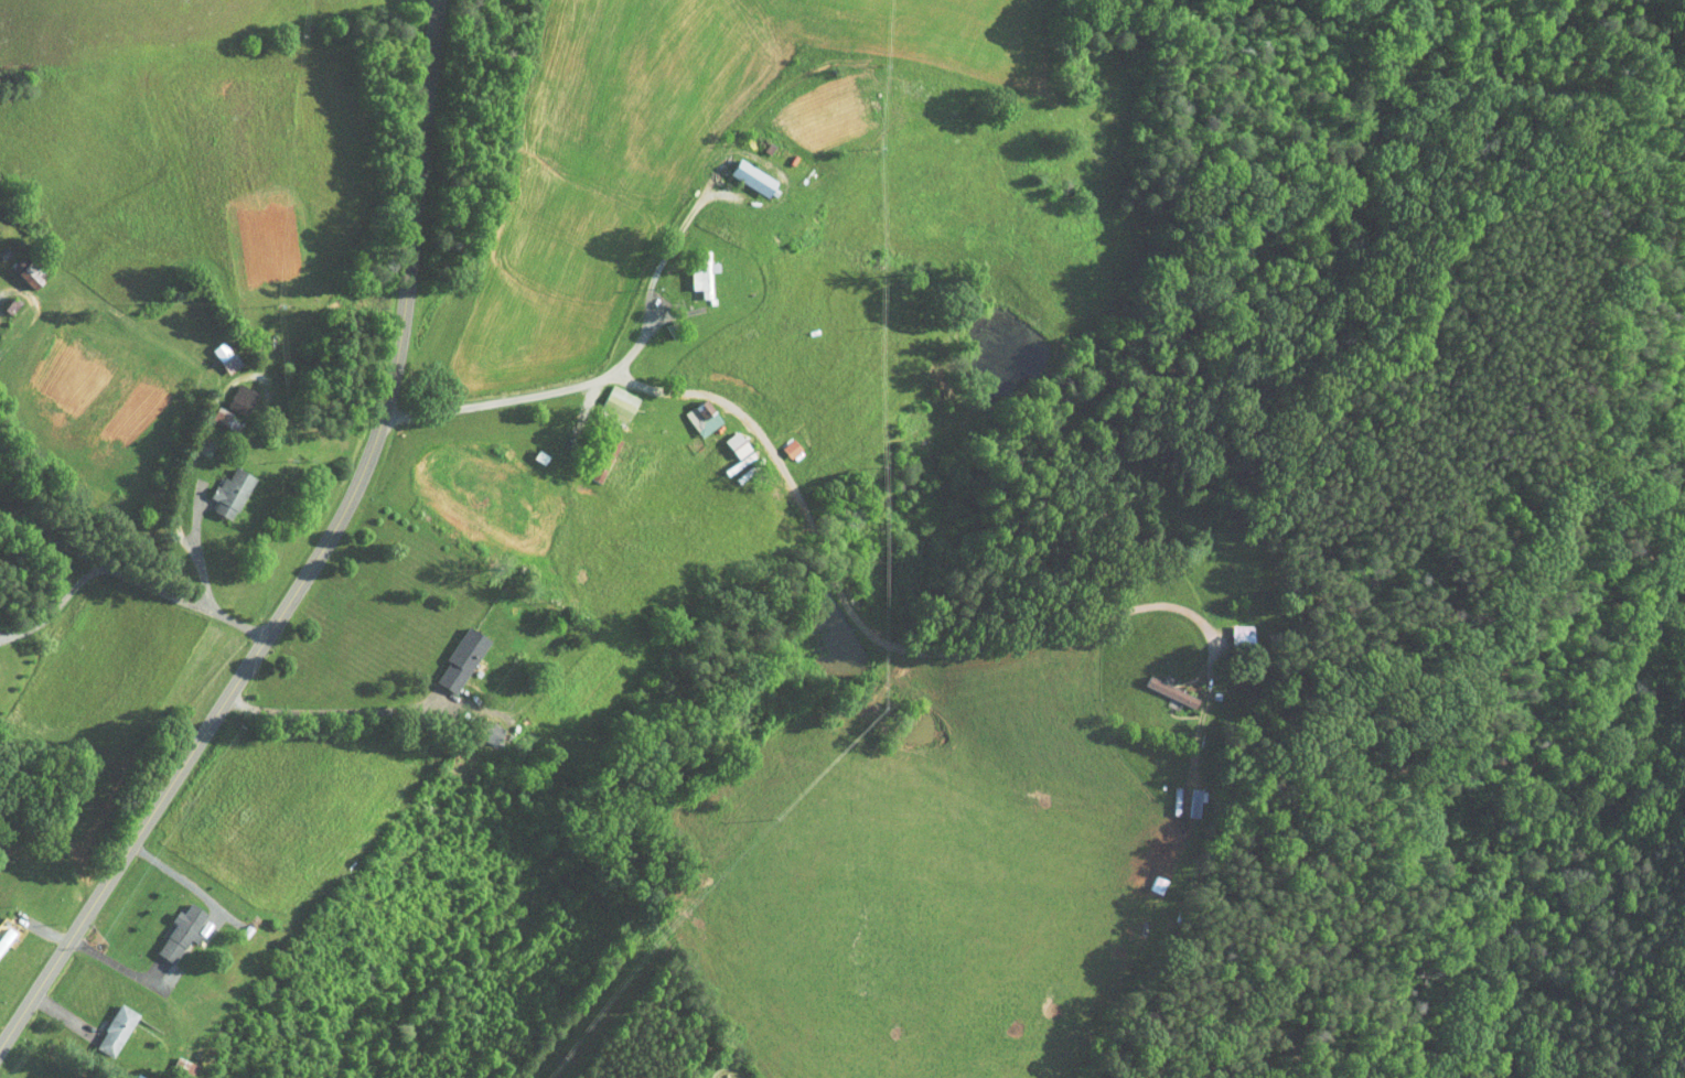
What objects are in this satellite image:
building: (744, 171)
building: (21, 270)
building: (691, 276)
road: (4, 288)
building: (216, 349)
road: (630, 356)
building: (232, 394)
building: (611, 395)
building: (693, 411)
road: (198, 436)
building: (728, 445)
building: (222, 486)
road: (196, 545)
road: (315, 561)
road: (114, 568)
road: (57, 607)
building: (1232, 625)
road: (920, 649)
building: (452, 651)
building: (1161, 683)
road: (343, 709)
building: (1184, 795)
building: (1147, 877)
road: (186, 882)
road: (212, 920)
building: (172, 924)
road: (120, 964)
building: (107, 1023)

